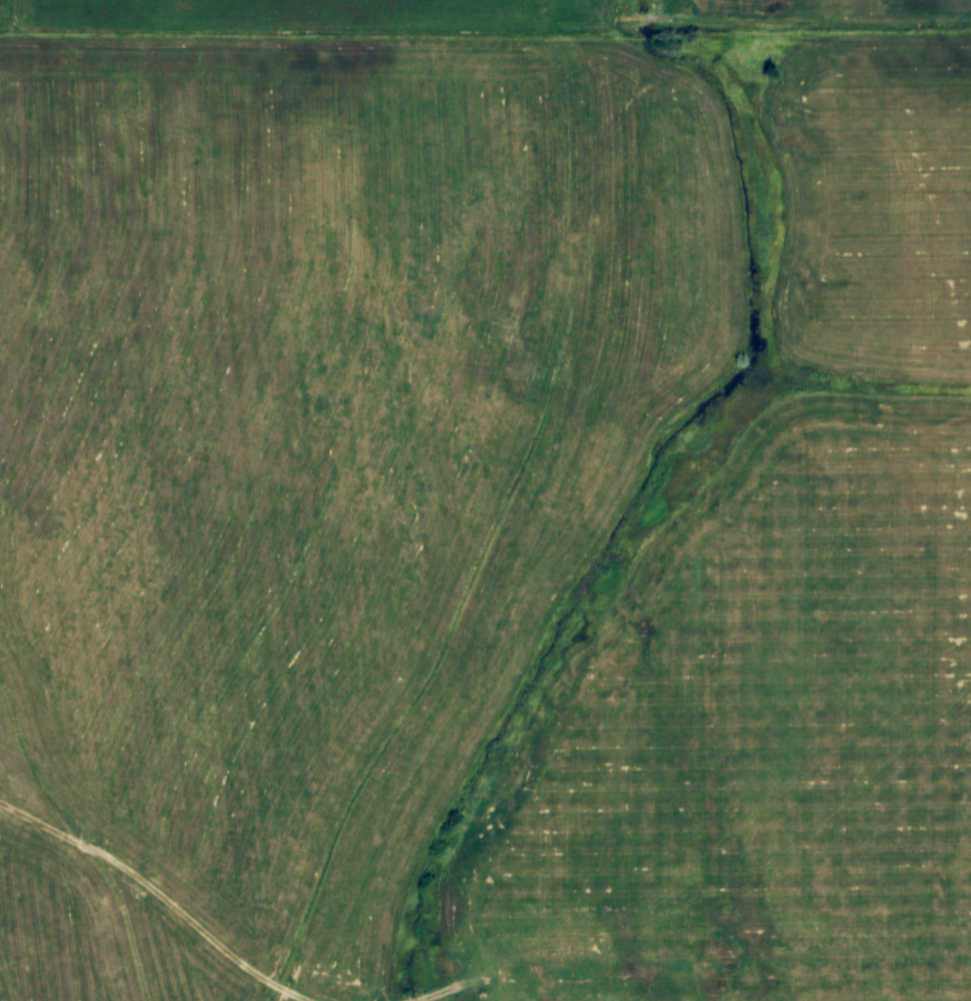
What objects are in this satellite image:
road: (339, 949)

